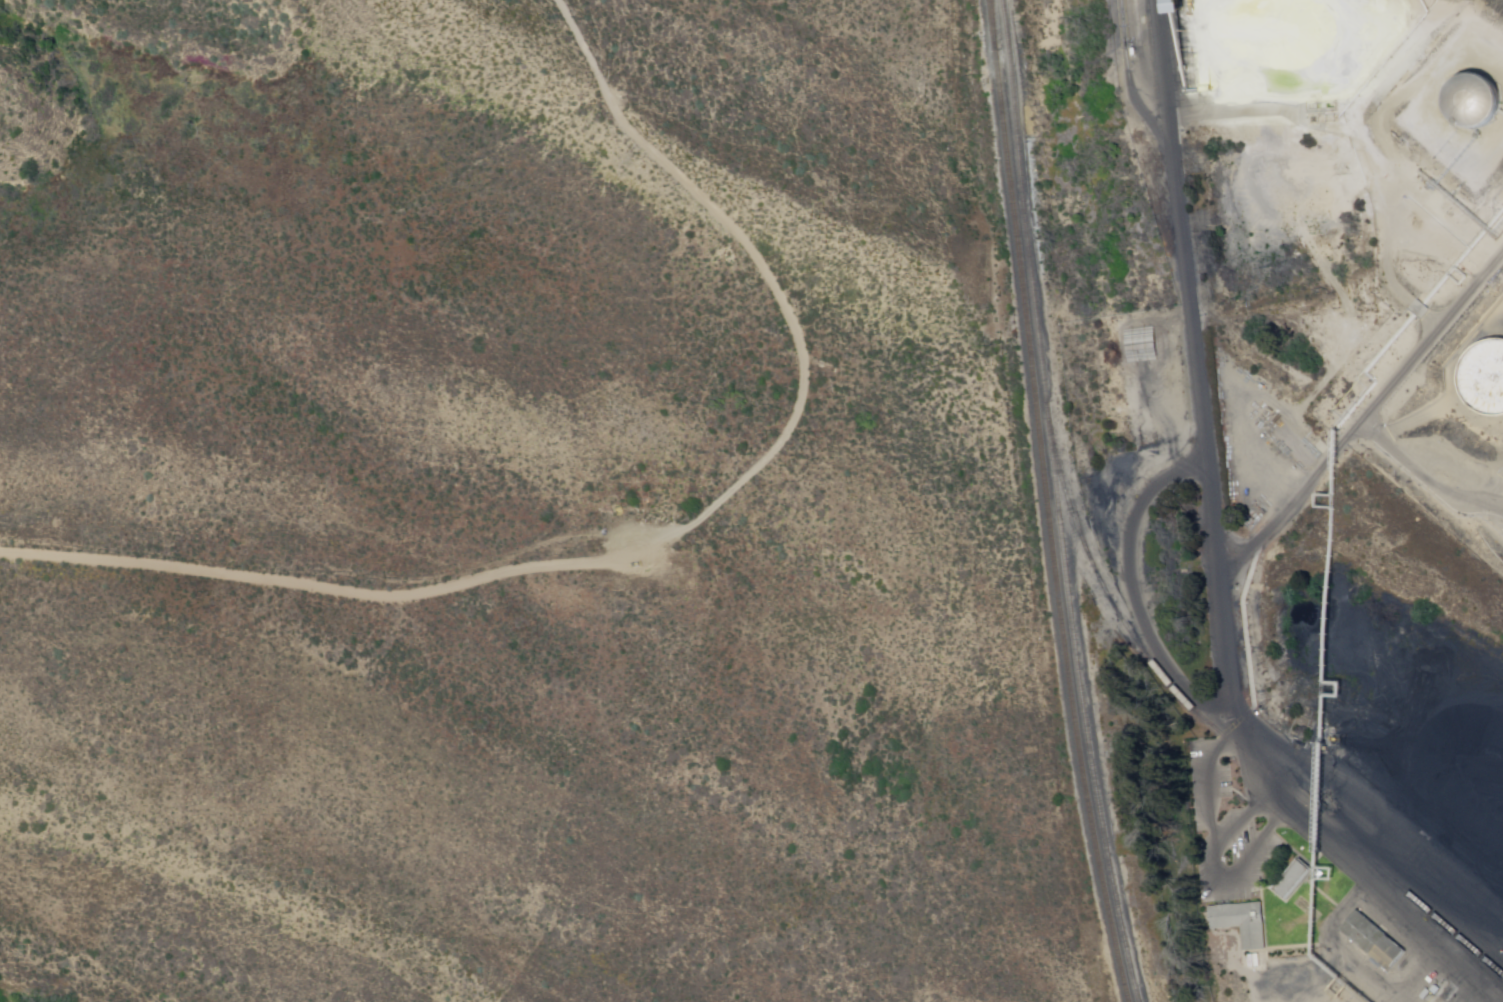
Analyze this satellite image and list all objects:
railway: (993, 24)
building: (1471, 100)
storage tank: (1471, 100)
road: (1369, 141)
road: (1194, 284)
building: (1128, 334)
building: (1491, 371)
road: (1367, 411)
road: (1423, 479)
railway: (1049, 502)
railway: (1058, 503)
park: (508, 511)
road: (670, 536)
road: (1250, 723)
railway: (1232, 741)
building: (1295, 880)
building: (1244, 922)
building: (1376, 942)
railway: (1477, 954)

